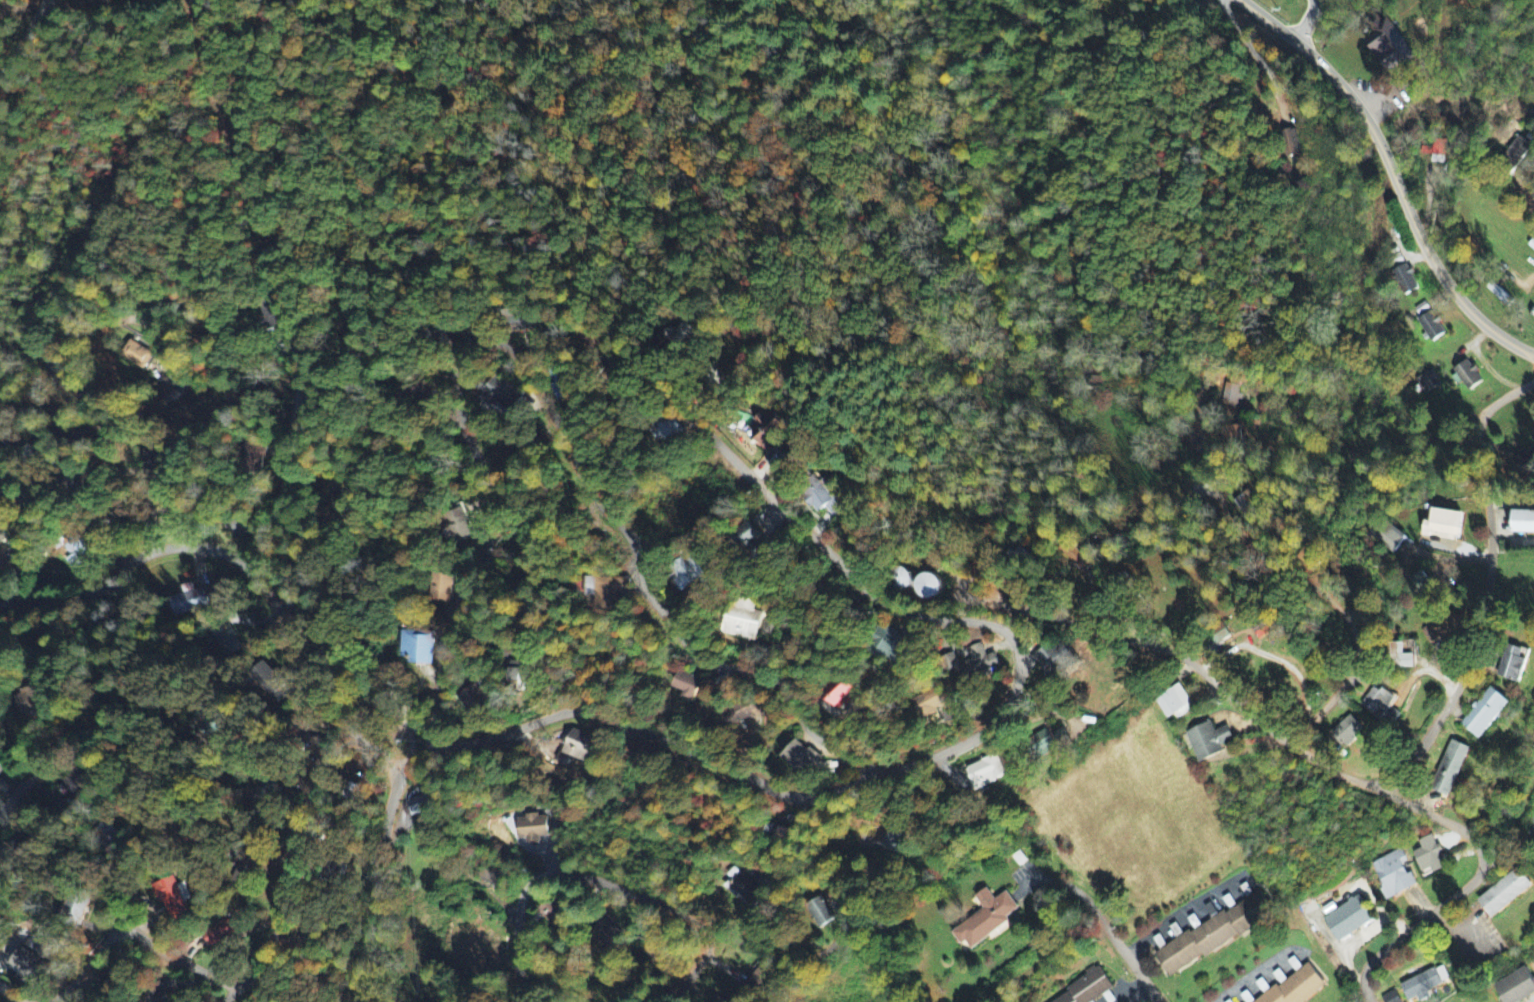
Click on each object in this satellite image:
road: (25, 39)
building: (1388, 46)
building: (1291, 142)
building: (1435, 148)
building: (1516, 152)
building: (1438, 160)
road: (1392, 175)
road: (1524, 192)
building: (1404, 280)
building: (274, 315)
building: (525, 319)
building: (1427, 319)
building: (136, 355)
building: (1466, 376)
building: (561, 382)
building: (1427, 382)
building: (1233, 393)
building: (500, 396)
road: (540, 399)
building: (769, 426)
building: (667, 430)
road: (107, 443)
building: (256, 452)
building: (1525, 465)
road: (288, 492)
building: (824, 498)
building: (344, 503)
building: (1523, 522)
building: (1443, 524)
building: (460, 525)
building: (238, 528)
building: (1386, 535)
building: (750, 542)
building: (75, 551)
building: (1075, 556)
building: (4, 562)
road: (242, 563)
building: (687, 572)
road: (1488, 585)
building: (928, 586)
building: (444, 588)
building: (606, 591)
road: (1323, 597)
building: (187, 601)
building: (744, 622)
building: (1435, 632)
building: (226, 639)
building: (1217, 640)
building: (890, 645)
building: (1054, 657)
building: (1403, 658)
building: (951, 662)
building: (1513, 663)
building: (979, 664)
building: (519, 673)
building: (269, 682)
building: (688, 685)
building: (839, 692)
road: (954, 697)
building: (477, 699)
building: (30, 700)
building: (1175, 703)
building: (932, 704)
building: (1380, 705)
building: (1485, 713)
building: (1347, 731)
building: (1059, 737)
building: (1209, 741)
building: (1042, 744)
building: (579, 748)
road: (44, 754)
building: (802, 758)
building: (2, 765)
building: (1450, 768)
building: (986, 772)
road: (1340, 773)
building: (73, 781)
road: (861, 781)
building: (3, 788)
building: (420, 805)
building: (1533, 821)
building: (531, 828)
building: (778, 831)
road: (145, 835)
building: (891, 839)
building: (1429, 857)
road: (292, 861)
building: (244, 871)
building: (488, 874)
building: (1394, 875)
road: (603, 882)
building: (743, 889)
building: (1505, 893)
building: (169, 896)
building: (821, 912)
building: (554, 914)
building: (985, 919)
building: (1348, 919)
building: (218, 933)
building: (1214, 934)
building: (607, 936)
road: (179, 958)
road: (1131, 958)
building: (25, 964)
road: (85, 966)
building: (761, 975)
building: (1424, 983)
building: (1295, 986)
building: (1516, 987)
building: (1090, 991)
road: (14, 993)
building: (152, 993)
road: (230, 995)

